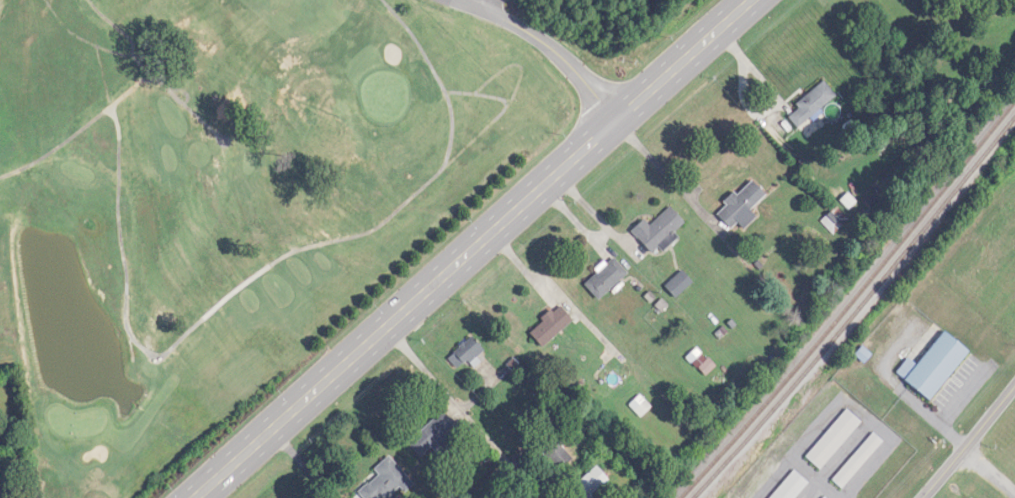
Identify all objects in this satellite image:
road: (490, 5)
road: (546, 44)
road: (683, 61)
road: (750, 66)
building: (813, 104)
road: (577, 156)
road: (665, 174)
building: (742, 203)
building: (659, 230)
road: (602, 235)
road: (528, 274)
building: (607, 279)
building: (680, 284)
road: (428, 290)
railway: (851, 303)
railway: (856, 310)
building: (552, 327)
building: (466, 354)
building: (936, 366)
building: (612, 381)
building: (641, 406)
road: (952, 407)
road: (461, 413)
building: (430, 433)
building: (834, 439)
road: (966, 440)
road: (255, 442)
building: (553, 451)
building: (859, 461)
road: (302, 463)
road: (988, 470)
building: (388, 481)
building: (792, 486)
building: (827, 497)

